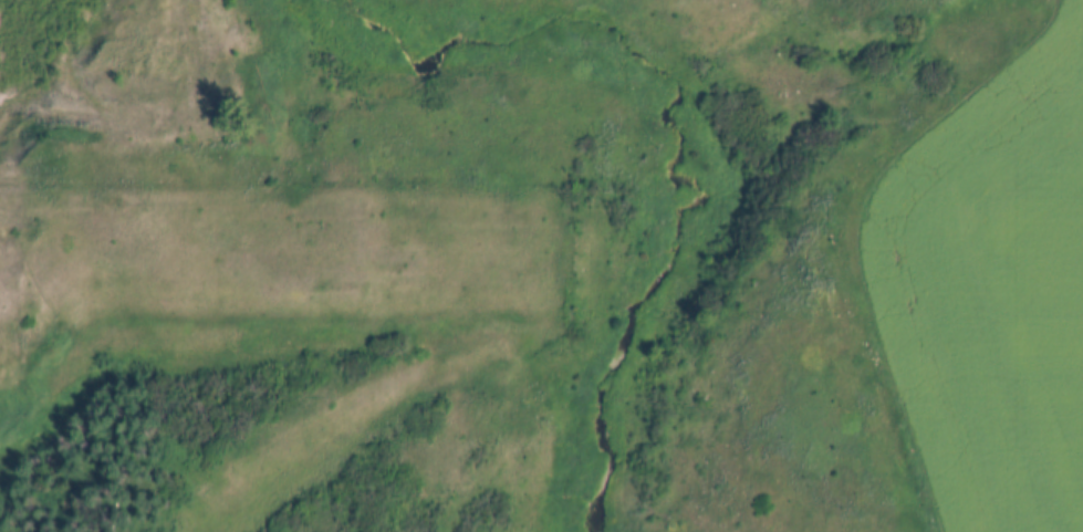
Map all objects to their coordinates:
quarry: (95, 149)
quarry: (0, 521)

